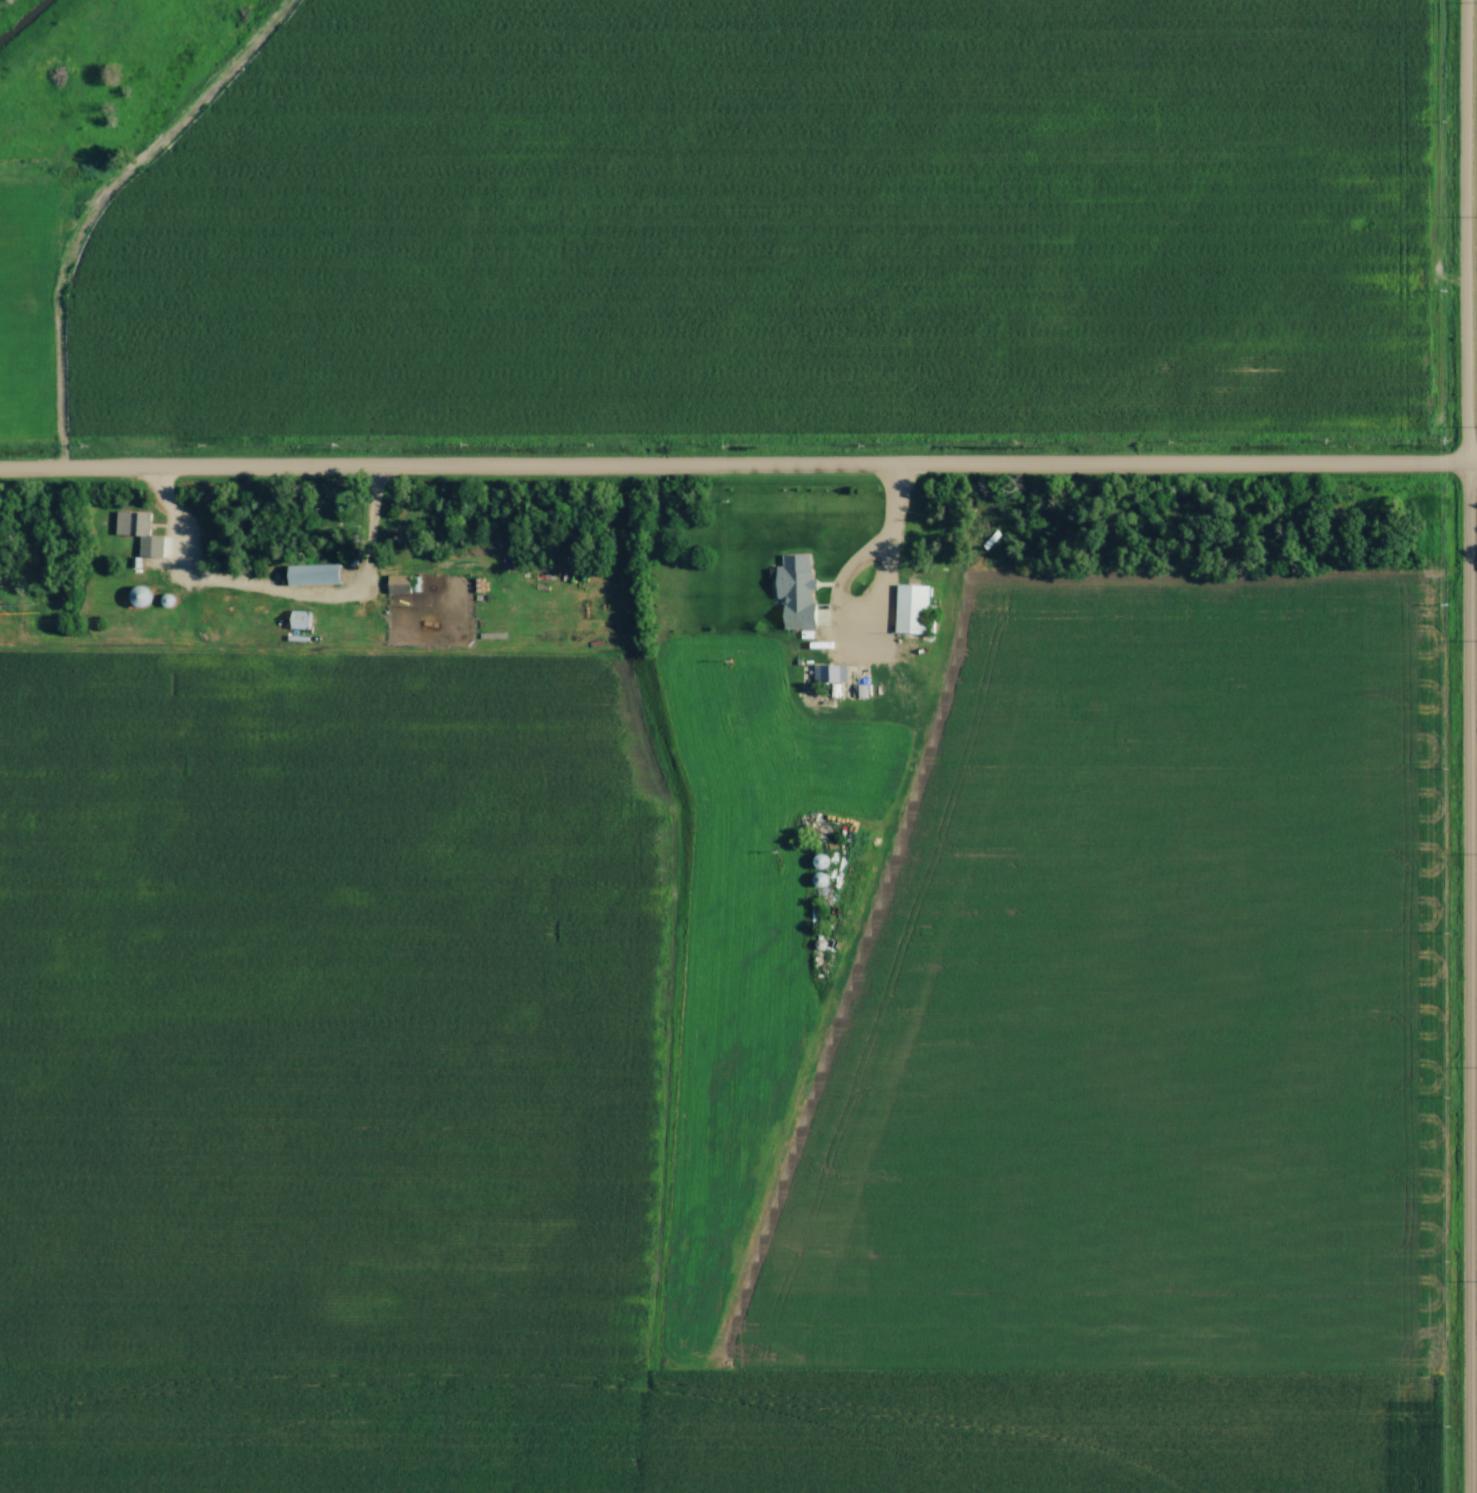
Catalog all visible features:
road: (738, 471)
building: (134, 525)
road: (890, 563)
building: (315, 576)
building: (400, 584)
building: (797, 592)
road: (282, 596)
building: (140, 598)
building: (912, 610)
building: (301, 621)
building: (831, 675)
road: (1466, 746)
building: (819, 863)
building: (822, 880)

